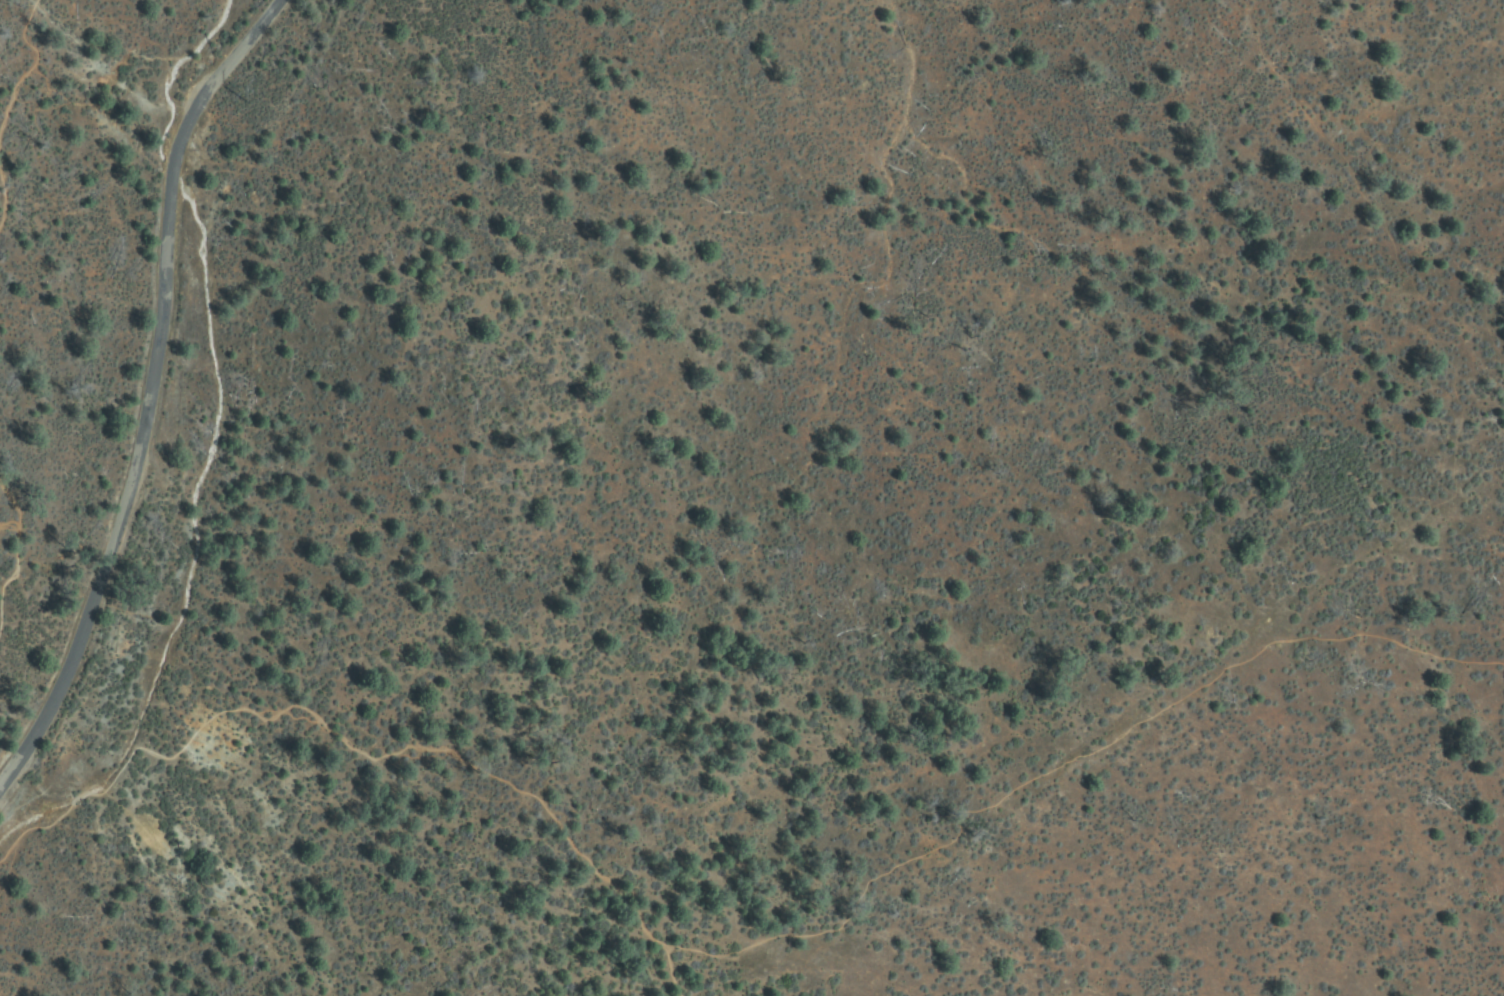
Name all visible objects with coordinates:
road: (105, 64)
road: (138, 375)
road: (724, 953)

